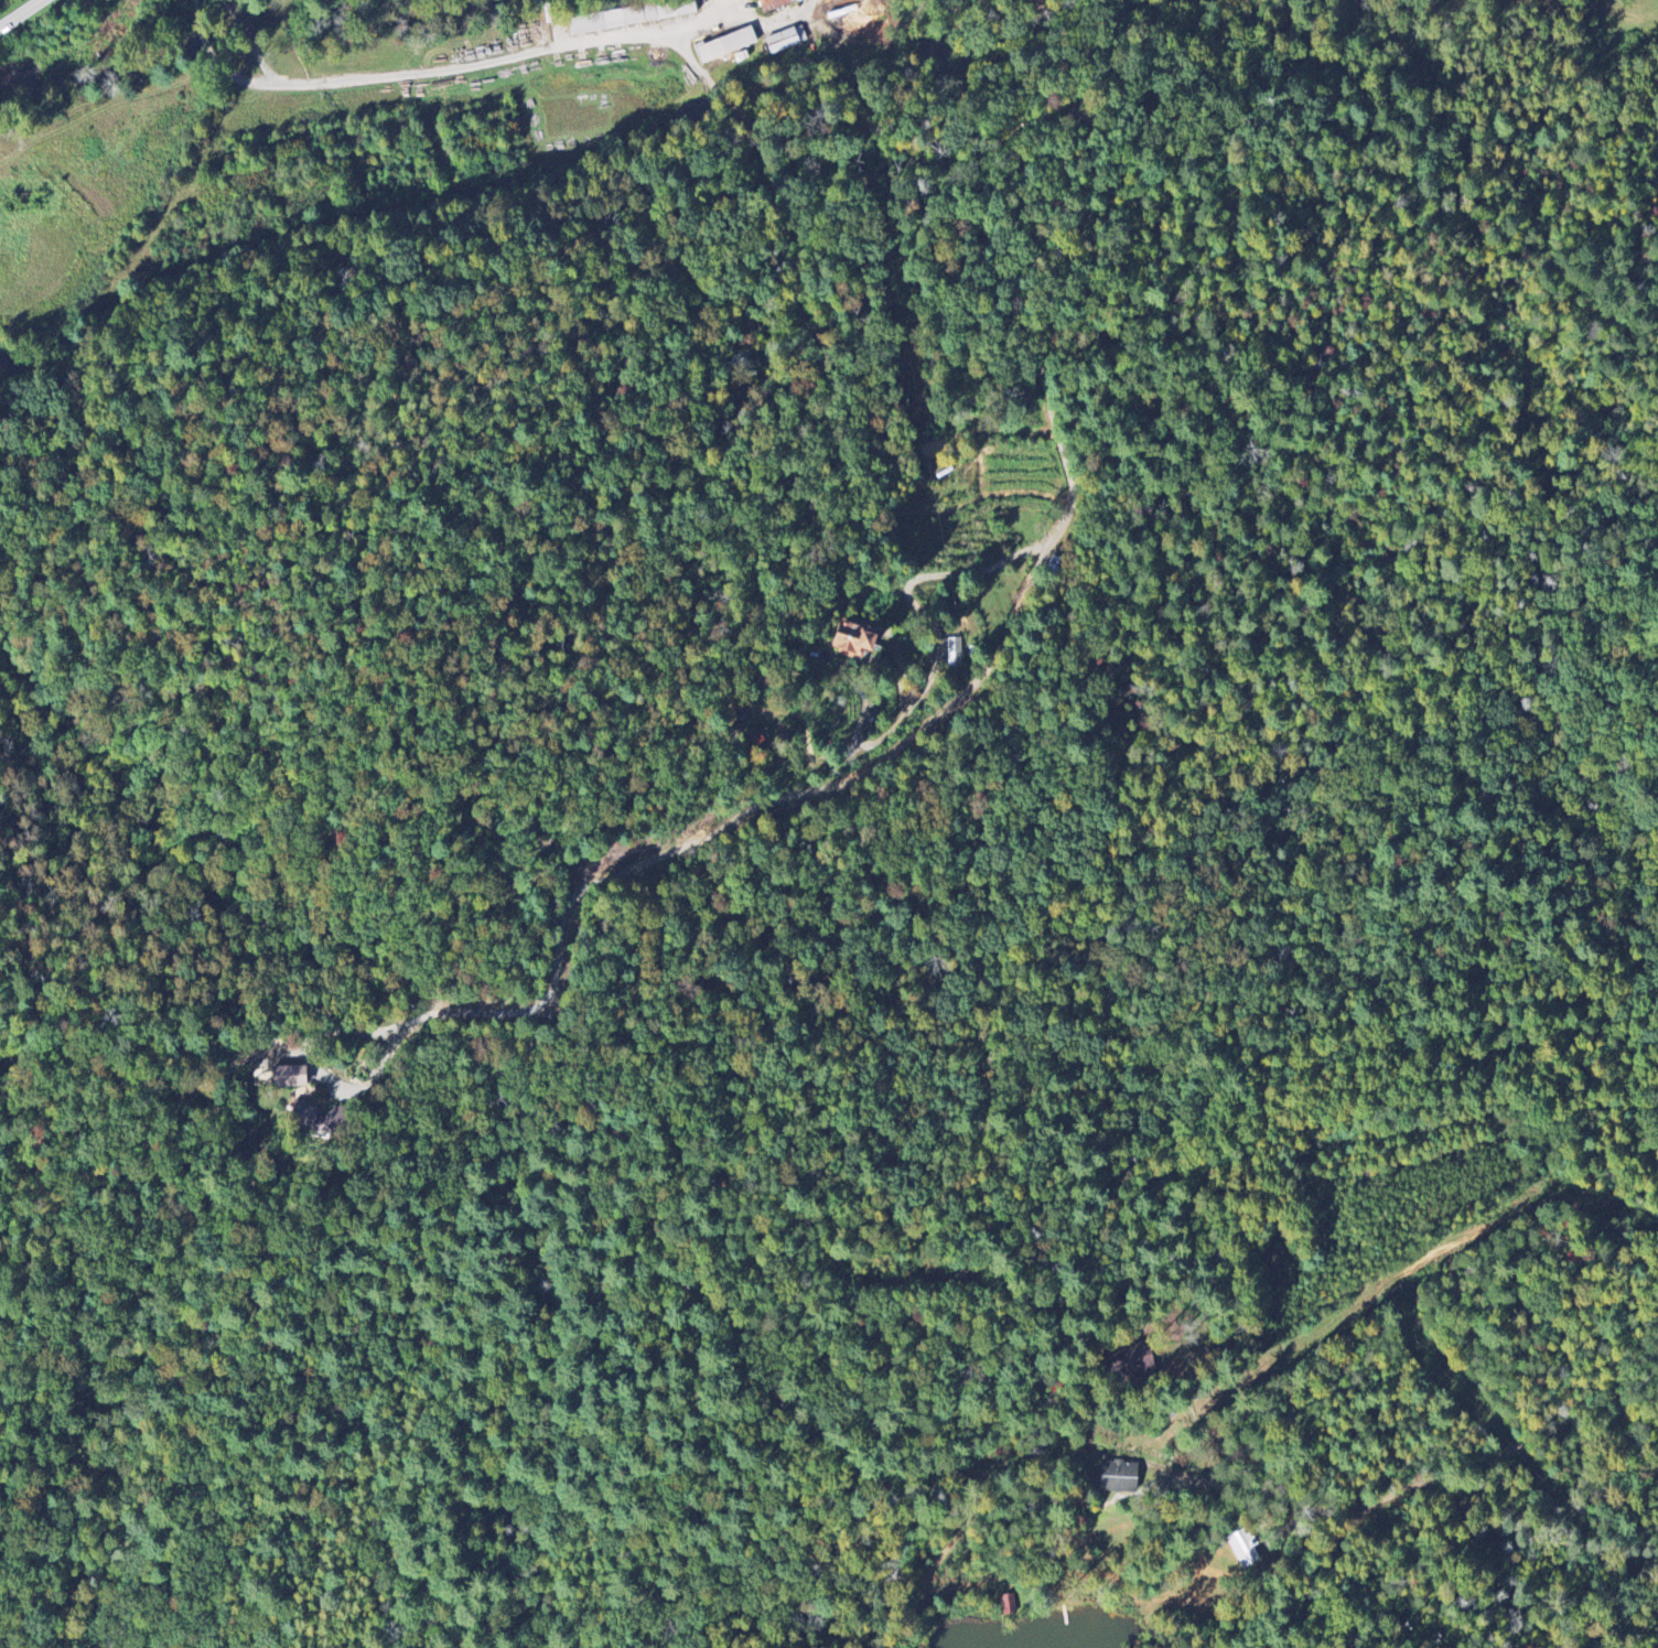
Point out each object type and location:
building: (776, 4)
road: (21, 14)
river: (972, 28)
building: (787, 40)
building: (729, 45)
river: (120, 54)
road: (1411, 127)
road: (1058, 295)
building: (859, 639)
building: (955, 654)
building: (292, 1077)
building: (305, 1113)
road: (1360, 1250)
road: (1483, 1450)
building: (1120, 1476)
road: (1239, 1485)
building: (1242, 1549)

